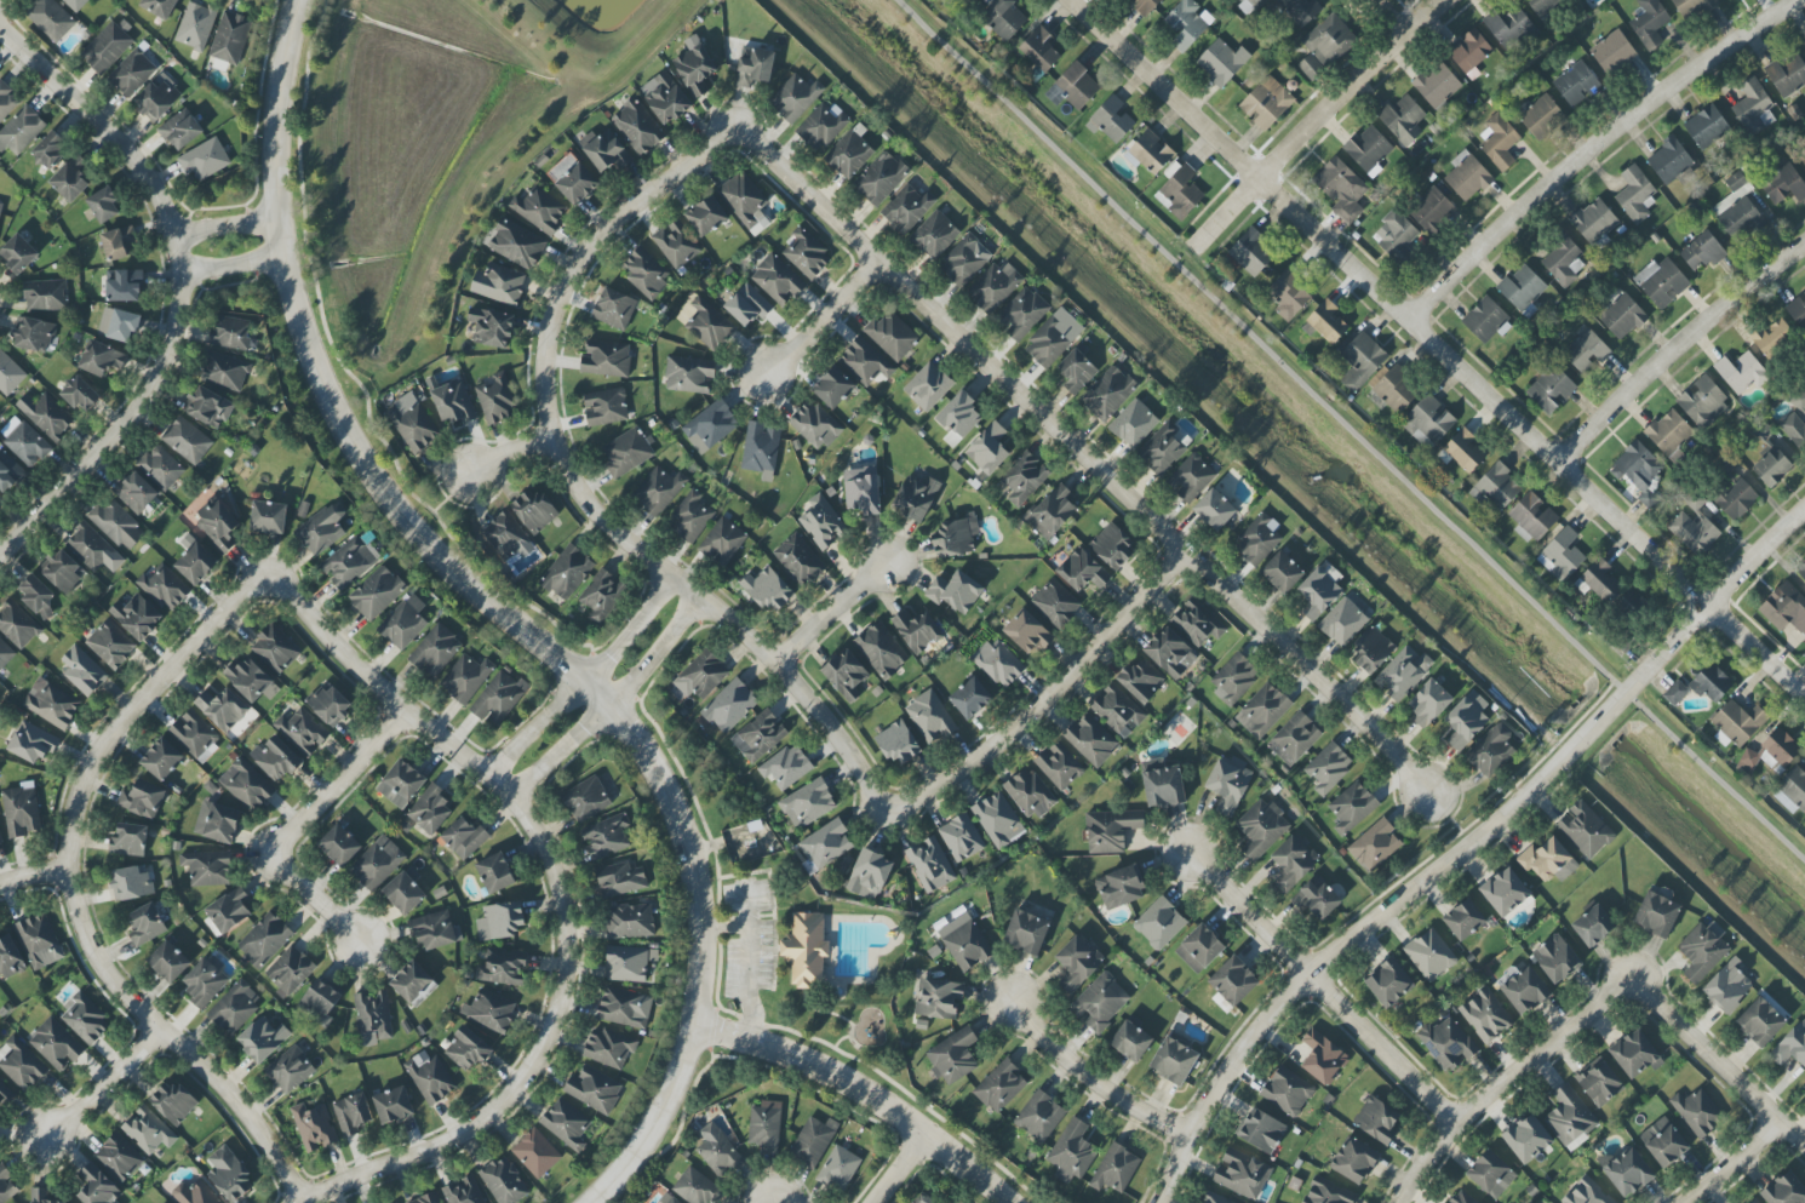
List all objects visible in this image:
building: (973, 1)
building: (75, 4)
building: (1145, 5)
building: (1249, 5)
building: (1545, 6)
building: (160, 7)
building: (1692, 7)
building: (1300, 10)
road: (1393, 17)
building: (1004, 18)
building: (51, 19)
building: (1650, 19)
building: (1187, 23)
building: (196, 25)
building: (1514, 29)
building: (230, 39)
building: (108, 46)
building: (1325, 46)
building: (1041, 50)
building: (1471, 51)
building: (1612, 52)
building: (1221, 62)
building: (755, 67)
building: (695, 69)
building: (132, 73)
building: (1787, 76)
building: (1576, 84)
building: (1437, 85)
building: (1077, 86)
road: (1357, 87)
building: (796, 97)
building: (157, 98)
building: (665, 98)
building: (7, 101)
building: (1267, 103)
road: (253, 114)
building: (1542, 115)
building: (1110, 120)
building: (1403, 120)
building: (821, 126)
building: (637, 127)
building: (1707, 127)
building: (21, 130)
building: (180, 130)
building: (1499, 142)
road: (1597, 147)
building: (51, 149)
building: (1369, 150)
building: (607, 151)
building: (1150, 153)
building: (849, 154)
building: (1803, 156)
building: (205, 160)
building: (1669, 160)
building: (1467, 177)
building: (71, 179)
building: (573, 179)
building: (881, 179)
building: (1736, 183)
building: (1784, 185)
building: (1341, 189)
building: (1180, 191)
building: (1635, 194)
building: (745, 201)
building: (104, 206)
building: (0, 208)
building: (907, 208)
building: (539, 210)
building: (1432, 211)
road: (1233, 212)
building: (706, 216)
building: (1738, 217)
building: (1594, 220)
road: (227, 228)
building: (934, 235)
building: (1398, 235)
building: (119, 244)
building: (676, 244)
building: (517, 245)
building: (1702, 252)
building: (1253, 253)
building: (18, 254)
building: (806, 254)
building: (965, 260)
building: (1564, 260)
road: (231, 265)
building: (646, 271)
building: (778, 280)
building: (1661, 282)
building: (499, 285)
building: (124, 286)
building: (996, 286)
building: (1522, 287)
road: (180, 290)
building: (1289, 294)
building: (46, 296)
building: (747, 305)
building: (614, 309)
building: (1798, 310)
building: (1022, 313)
building: (1622, 317)
road: (819, 319)
building: (1486, 321)
building: (709, 323)
building: (1326, 323)
building: (119, 325)
building: (491, 327)
building: (230, 333)
building: (34, 334)
building: (892, 336)
building: (1772, 337)
building: (1049, 342)
road: (1439, 346)
building: (1586, 350)
road: (1680, 354)
building: (102, 359)
building: (607, 359)
building: (1362, 361)
building: (865, 362)
building: (1077, 371)
building: (224, 372)
building: (1741, 372)
building: (10, 374)
building: (689, 374)
road: (354, 379)
building: (928, 386)
building: (833, 388)
building: (1551, 388)
building: (1396, 390)
building: (81, 394)
building: (1108, 394)
building: (497, 400)
building: (453, 402)
building: (1703, 402)
building: (210, 407)
building: (606, 407)
building: (46, 416)
building: (958, 418)
building: (1795, 419)
building: (1428, 422)
building: (413, 424)
building: (1134, 424)
building: (814, 425)
building: (710, 426)
road: (1350, 430)
building: (1669, 432)
building: (187, 440)
building: (25, 442)
building: (989, 449)
building: (1162, 449)
building: (761, 451)
building: (1463, 452)
building: (626, 453)
road: (511, 456)
road: (1085, 458)
building: (1772, 466)
building: (160, 468)
building: (1637, 468)
building: (8, 472)
building: (1191, 477)
building: (1024, 479)
building: (1496, 487)
building: (659, 491)
building: (863, 491)
building: (136, 493)
road: (451, 493)
road: (580, 493)
building: (0, 498)
building: (916, 498)
building: (534, 510)
building: (1215, 510)
building: (1052, 512)
building: (269, 517)
building: (692, 517)
building: (1531, 517)
building: (823, 522)
building: (116, 525)
building: (218, 526)
building: (322, 528)
building: (1694, 533)
building: (505, 537)
building: (955, 537)
building: (1257, 540)
building: (722, 543)
building: (1112, 546)
building: (93, 549)
building: (1562, 555)
building: (798, 560)
building: (195, 561)
building: (350, 561)
building: (64, 571)
building: (1083, 571)
building: (1282, 572)
building: (1801, 572)
building: (568, 573)
building: (1600, 580)
building: (165, 588)
building: (768, 589)
building: (955, 591)
building: (1319, 591)
building: (377, 592)
building: (38, 596)
building: (602, 596)
building: (1055, 602)
building: (1631, 605)
road: (1708, 605)
building: (1784, 608)
road: (502, 614)
road: (831, 614)
building: (137, 617)
building: (403, 623)
building: (1198, 623)
building: (1342, 623)
building: (17, 625)
building: (917, 631)
building: (1027, 631)
building: (110, 645)
building: (275, 649)
building: (435, 651)
building: (882, 651)
building: (1371, 651)
building: (1170, 653)
building: (5, 654)
building: (998, 663)
building: (82, 671)
building: (1403, 672)
building: (846, 675)
building: (701, 676)
building: (466, 678)
building: (1234, 678)
building: (248, 680)
road: (585, 681)
building: (1141, 681)
building: (1711, 683)
building: (1675, 693)
road: (1050, 695)
building: (499, 698)
building: (970, 699)
building: (1429, 701)
road: (612, 703)
building: (51, 704)
building: (330, 705)
building: (729, 706)
building: (222, 709)
building: (1118, 711)
building: (1263, 711)
building: (930, 717)
building: (1467, 720)
building: (1738, 722)
road: (1593, 727)
building: (302, 732)
building: (194, 734)
building: (758, 737)
building: (1295, 739)
building: (1090, 740)
building: (31, 743)
building: (898, 743)
building: (1491, 750)
building: (1771, 754)
building: (275, 758)
building: (162, 760)
building: (1059, 766)
building: (785, 767)
building: (1328, 768)
road: (340, 783)
building: (401, 784)
building: (1228, 784)
building: (247, 785)
building: (1794, 786)
building: (1163, 787)
building: (1028, 794)
building: (142, 800)
building: (586, 800)
building: (808, 804)
building: (1352, 807)
building: (430, 809)
building: (22, 812)
building: (998, 820)
building: (217, 821)
building: (1261, 827)
building: (1111, 830)
building: (1585, 830)
building: (0, 837)
building: (465, 837)
building: (607, 837)
building: (961, 838)
building: (130, 841)
building: (827, 844)
building: (339, 846)
building: (1375, 846)
road: (714, 848)
building: (1545, 859)
building: (377, 863)
building: (1293, 863)
building: (930, 865)
building: (207, 867)
building: (495, 872)
building: (869, 875)
road: (33, 876)
building: (620, 880)
building: (131, 883)
road: (69, 886)
building: (1121, 887)
building: (405, 892)
building: (1505, 892)
road: (315, 898)
parking lot: (749, 898)
building: (1318, 898)
road: (560, 901)
road: (773, 904)
building: (230, 910)
building: (1657, 915)
road: (762, 917)
building: (1465, 920)
building: (500, 921)
building: (629, 921)
building: (1159, 923)
building: (147, 924)
building: (1593, 926)
road: (723, 928)
building: (435, 930)
building: (1026, 932)
building: (39, 940)
building: (265, 940)
building: (965, 943)
building: (1199, 949)
building: (1703, 950)
building: (813, 953)
road: (1334, 953)
building: (1429, 955)
building: (10, 957)
building: (1555, 958)
building: (168, 962)
road: (750, 962)
parking lot: (751, 962)
building: (1077, 963)
building: (630, 964)
park: (837, 966)
building: (502, 969)
building: (290, 970)
building: (1233, 980)
building: (204, 983)
building: (412, 983)
building: (1389, 983)
road: (1323, 987)
building: (1729, 987)
building: (1525, 991)
building: (940, 998)
building: (320, 1001)
building: (1100, 1002)
building: (235, 1007)
building: (624, 1008)
building: (489, 1010)
building: (373, 1015)
road: (835, 1015)
building: (1485, 1015)
building: (85, 1019)
building: (1760, 1021)
building: (262, 1039)
road: (841, 1039)
building: (1131, 1042)
building: (56, 1044)
building: (1448, 1044)
building: (1790, 1047)
building: (609, 1048)
building: (468, 1049)
building: (1634, 1054)
building: (953, 1056)
building: (1323, 1058)
building: (1174, 1061)
building: (21, 1064)
road: (1718, 1069)
building: (290, 1070)
building: (430, 1077)
road: (1094, 1078)
road: (889, 1082)
road: (1502, 1082)
building: (1599, 1083)
road: (102, 1084)
building: (1804, 1085)
building: (1001, 1087)
building: (594, 1089)
building: (4, 1092)
road: (864, 1092)
building: (1287, 1092)
building: (173, 1102)
building: (394, 1105)
building: (1697, 1112)
building: (353, 1113)
building: (1039, 1116)
building: (1569, 1116)
building: (1377, 1119)
building: (566, 1124)
building: (766, 1125)
building: (314, 1128)
building: (148, 1130)
building: (1261, 1130)
building: (1528, 1139)
building: (813, 1141)
building: (1663, 1142)
building: (717, 1151)
building: (1072, 1152)
building: (535, 1153)
building: (119, 1158)
building: (1354, 1161)
road: (1731, 1163)
building: (838, 1169)
building: (1114, 1169)
road: (900, 1170)
building: (1628, 1173)
building: (229, 1174)
building: (1242, 1174)
building: (1491, 1174)
building: (504, 1181)
building: (7, 1185)
building: (98, 1186)
building: (697, 1187)
building: (1784, 1190)
building: (464, 1191)
building: (1328, 1192)
building: (194, 1193)
building: (1587, 1193)
building: (41, 1196)
building: (921, 1198)
building: (1215, 1198)
building: (1462, 1198)
building: (426, 1199)
building: (666, 1199)
building: (1754, 1201)
road: (781, 1202)

